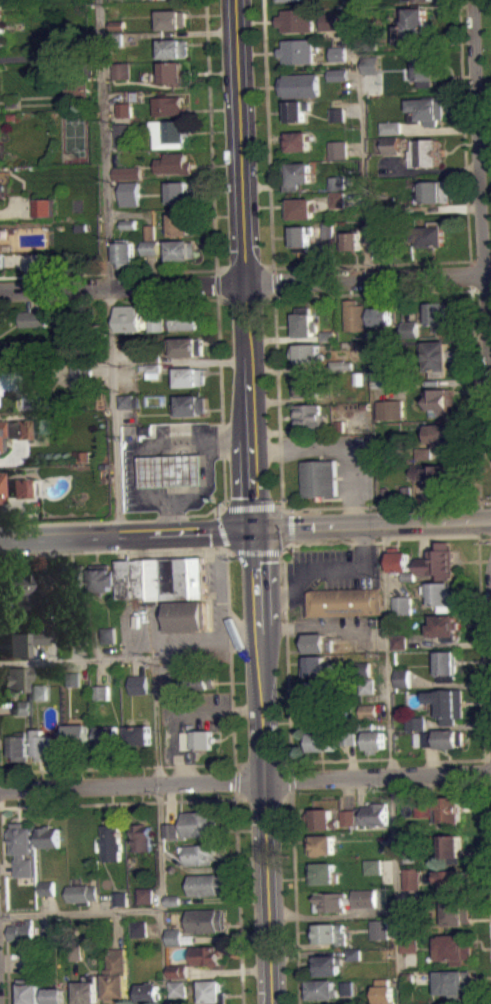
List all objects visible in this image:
building: (168, 0)
building: (289, 0)
building: (416, 0)
building: (329, 1)
building: (115, 2)
building: (1, 11)
building: (171, 19)
building: (297, 19)
building: (331, 21)
building: (117, 24)
building: (414, 27)
building: (115, 38)
building: (172, 47)
building: (298, 50)
building: (339, 53)
building: (339, 61)
building: (372, 65)
building: (121, 68)
building: (424, 68)
building: (172, 72)
building: (339, 74)
building: (122, 77)
building: (339, 81)
building: (300, 85)
building: (169, 105)
building: (123, 109)
building: (297, 109)
building: (427, 110)
building: (337, 114)
building: (124, 117)
building: (337, 122)
building: (392, 127)
building: (170, 133)
building: (122, 134)
building: (392, 134)
park: (74, 135)
road: (362, 139)
road: (267, 140)
building: (296, 141)
building: (392, 144)
road: (465, 145)
building: (339, 149)
building: (425, 152)
building: (176, 163)
building: (127, 173)
building: (296, 174)
building: (127, 180)
building: (336, 182)
building: (336, 190)
building: (433, 190)
building: (180, 192)
building: (130, 193)
building: (2, 198)
building: (336, 198)
building: (43, 206)
building: (337, 206)
building: (301, 208)
building: (128, 223)
building: (180, 224)
road: (481, 226)
building: (380, 228)
building: (327, 229)
building: (150, 231)
building: (301, 236)
building: (428, 236)
building: (382, 238)
building: (349, 241)
road: (214, 242)
building: (433, 245)
building: (150, 247)
building: (181, 249)
building: (125, 253)
building: (150, 254)
building: (2, 259)
road: (487, 260)
road: (245, 263)
road: (342, 264)
road: (108, 266)
building: (2, 268)
road: (245, 282)
road: (481, 290)
road: (471, 297)
road: (245, 298)
road: (164, 300)
building: (381, 314)
building: (355, 315)
building: (437, 315)
building: (33, 318)
building: (128, 318)
building: (182, 320)
building: (305, 322)
building: (156, 323)
building: (410, 328)
building: (156, 331)
building: (327, 335)
building: (437, 335)
building: (186, 346)
building: (307, 353)
building: (438, 354)
building: (341, 365)
building: (390, 369)
building: (152, 370)
building: (81, 372)
building: (189, 376)
building: (150, 377)
building: (358, 377)
building: (391, 377)
building: (7, 380)
building: (80, 383)
building: (307, 386)
road: (221, 390)
building: (128, 401)
building: (437, 401)
building: (190, 405)
building: (128, 408)
building: (390, 409)
building: (308, 416)
building: (338, 425)
building: (5, 428)
building: (19, 428)
building: (40, 432)
building: (441, 435)
road: (143, 447)
building: (423, 452)
building: (425, 460)
building: (173, 471)
gas station: (173, 471)
building: (432, 476)
building: (319, 478)
building: (18, 487)
building: (406, 492)
road: (281, 499)
road: (278, 504)
road: (251, 505)
road: (221, 506)
road: (290, 510)
road: (216, 511)
road: (192, 514)
road: (373, 524)
road: (291, 526)
traffic signals: (255, 528)
road: (221, 531)
road: (127, 532)
road: (384, 538)
road: (286, 546)
road: (113, 550)
road: (257, 552)
road: (231, 553)
building: (399, 559)
building: (437, 562)
road: (327, 568)
parking lot: (330, 570)
building: (72, 575)
building: (408, 576)
building: (103, 577)
building: (43, 583)
building: (169, 586)
road: (490, 586)
building: (15, 589)
building: (442, 593)
building: (345, 602)
building: (403, 604)
building: (444, 625)
building: (108, 634)
building: (22, 641)
building: (399, 641)
building: (108, 642)
building: (316, 642)
road: (481, 642)
building: (36, 644)
building: (400, 649)
road: (230, 658)
road: (76, 659)
road: (287, 660)
building: (447, 664)
building: (318, 666)
building: (362, 668)
building: (15, 678)
building: (403, 678)
building: (73, 679)
building: (199, 680)
building: (138, 684)
building: (367, 685)
building: (72, 686)
building: (317, 690)
building: (38, 691)
building: (100, 692)
building: (101, 699)
building: (448, 704)
building: (21, 706)
road: (181, 710)
parking lot: (195, 710)
building: (368, 710)
building: (21, 715)
building: (319, 716)
building: (369, 718)
building: (416, 722)
building: (416, 731)
building: (138, 734)
building: (105, 735)
building: (348, 736)
building: (372, 736)
building: (76, 737)
building: (440, 738)
building: (196, 740)
building: (322, 741)
building: (20, 745)
building: (42, 745)
road: (341, 760)
road: (458, 760)
road: (238, 763)
road: (261, 763)
road: (392, 763)
road: (291, 764)
road: (263, 766)
road: (115, 767)
road: (291, 777)
road: (232, 778)
road: (0, 780)
road: (245, 780)
road: (233, 794)
road: (285, 797)
road: (240, 798)
road: (263, 798)
road: (0, 799)
road: (219, 799)
building: (450, 810)
building: (371, 813)
building: (330, 814)
building: (424, 815)
building: (199, 823)
building: (348, 824)
building: (169, 829)
road: (158, 830)
building: (47, 836)
building: (141, 837)
building: (170, 837)
building: (110, 842)
building: (322, 844)
building: (21, 848)
building: (452, 848)
building: (199, 853)
road: (487, 853)
building: (413, 854)
building: (373, 865)
building: (322, 872)
building: (373, 874)
building: (413, 877)
building: (452, 881)
building: (205, 884)
building: (46, 887)
building: (80, 893)
building: (144, 894)
building: (46, 895)
road: (294, 896)
building: (119, 898)
building: (172, 900)
building: (345, 900)
road: (3, 905)
building: (119, 906)
building: (172, 907)
building: (412, 911)
road: (80, 912)
building: (456, 912)
building: (207, 920)
building: (375, 923)
building: (138, 928)
building: (20, 930)
building: (329, 933)
building: (46, 934)
building: (137, 936)
building: (175, 936)
building: (387, 941)
building: (409, 944)
building: (454, 948)
building: (410, 951)
building: (75, 952)
building: (386, 952)
building: (353, 953)
building: (204, 955)
building: (30, 961)
building: (353, 961)
building: (327, 964)
building: (177, 970)
building: (116, 975)
building: (177, 978)
building: (410, 978)
building: (455, 982)
building: (346, 986)
building: (176, 988)
building: (320, 988)
building: (86, 990)
building: (27, 991)
building: (385, 991)
building: (146, 992)
building: (211, 992)
building: (346, 994)
building: (54, 995)

